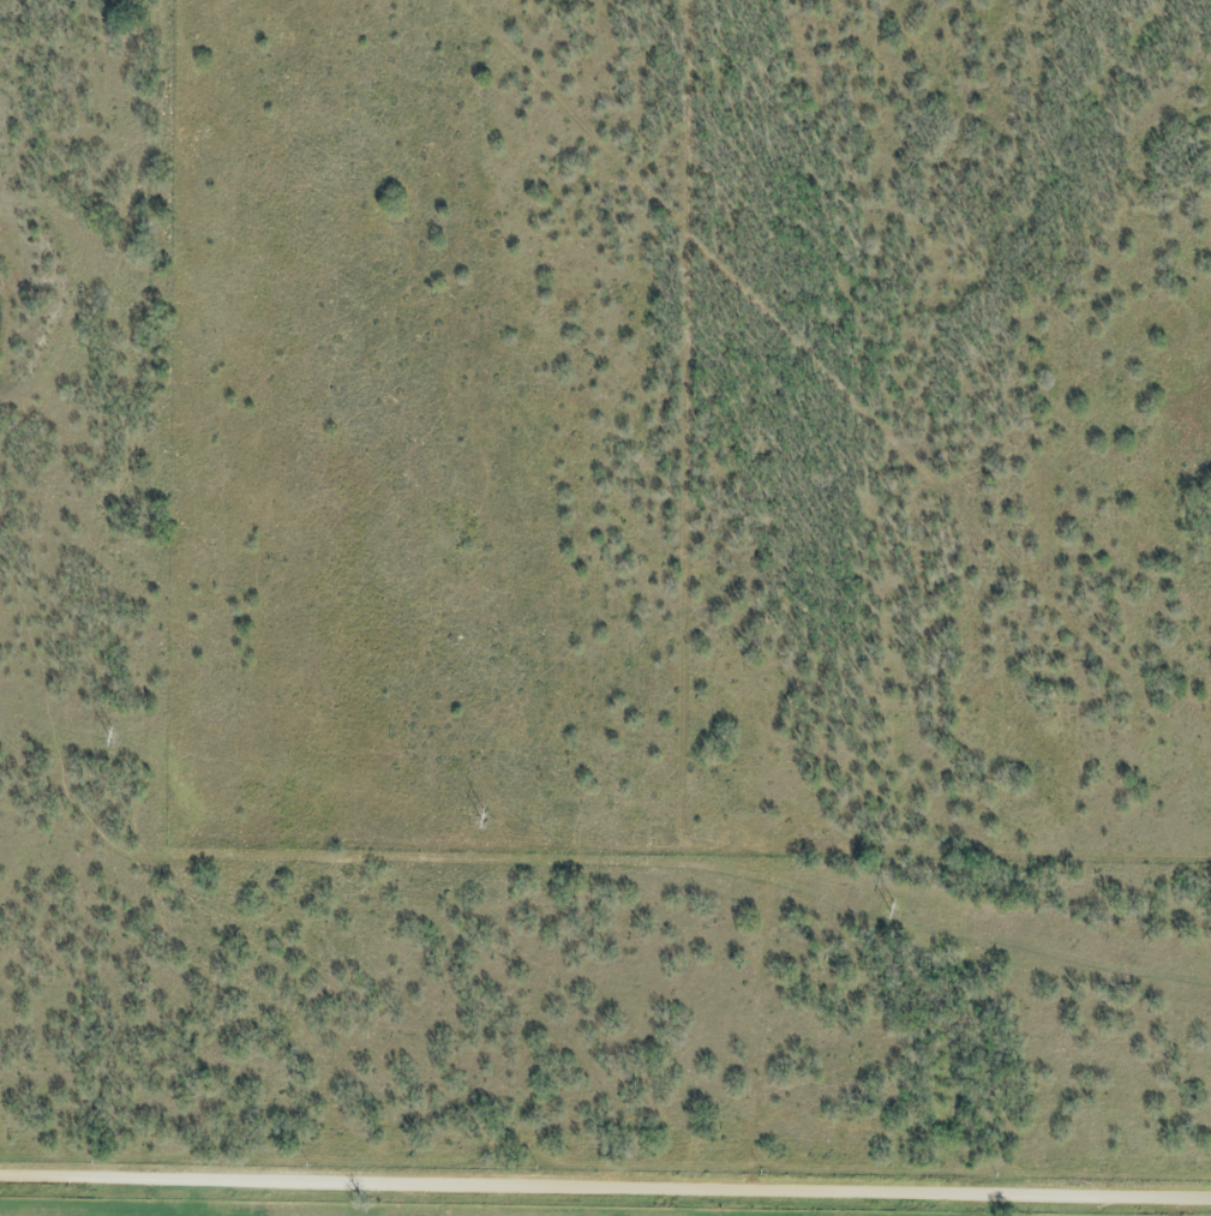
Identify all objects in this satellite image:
power tower: (112, 738)
power tower: (482, 820)
power tower: (893, 911)
road: (605, 1184)

